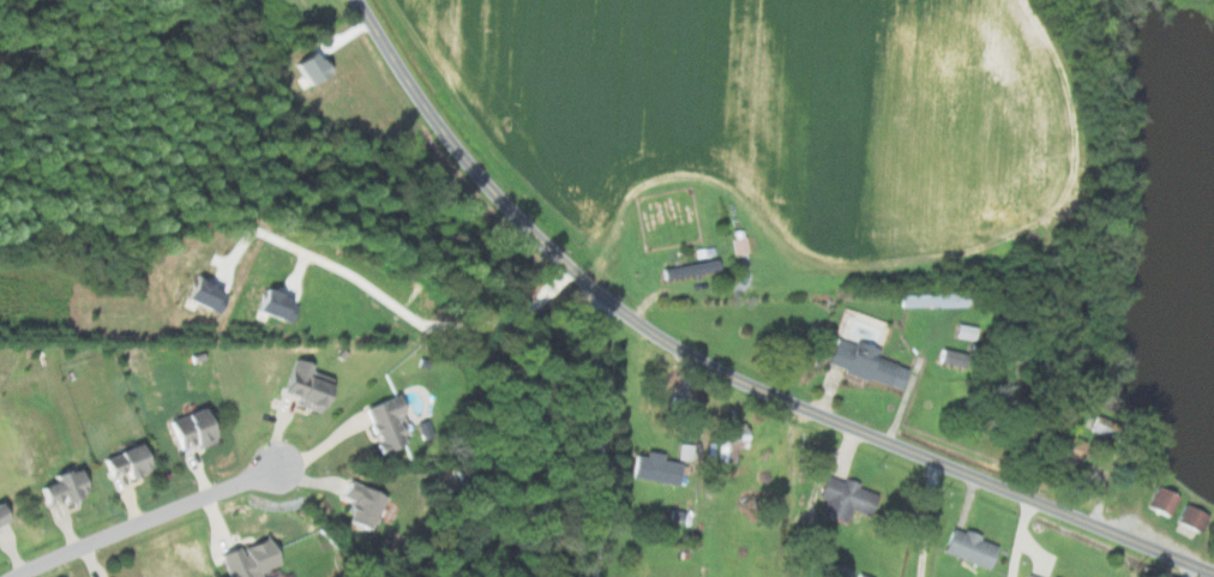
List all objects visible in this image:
park: (669, 218)
building: (739, 245)
building: (689, 269)
building: (930, 300)
road: (413, 308)
building: (962, 331)
building: (946, 357)
building: (863, 363)
road: (723, 371)
building: (301, 386)
building: (380, 422)
building: (186, 429)
road: (599, 434)
building: (1063, 445)
building: (121, 462)
building: (653, 468)
building: (59, 487)
building: (842, 499)
building: (1160, 500)
building: (357, 505)
building: (0, 518)
road: (928, 518)
building: (1189, 518)
road: (143, 519)
road: (1012, 536)
building: (966, 548)
building: (245, 559)
building: (824, 569)
building: (1026, 576)

